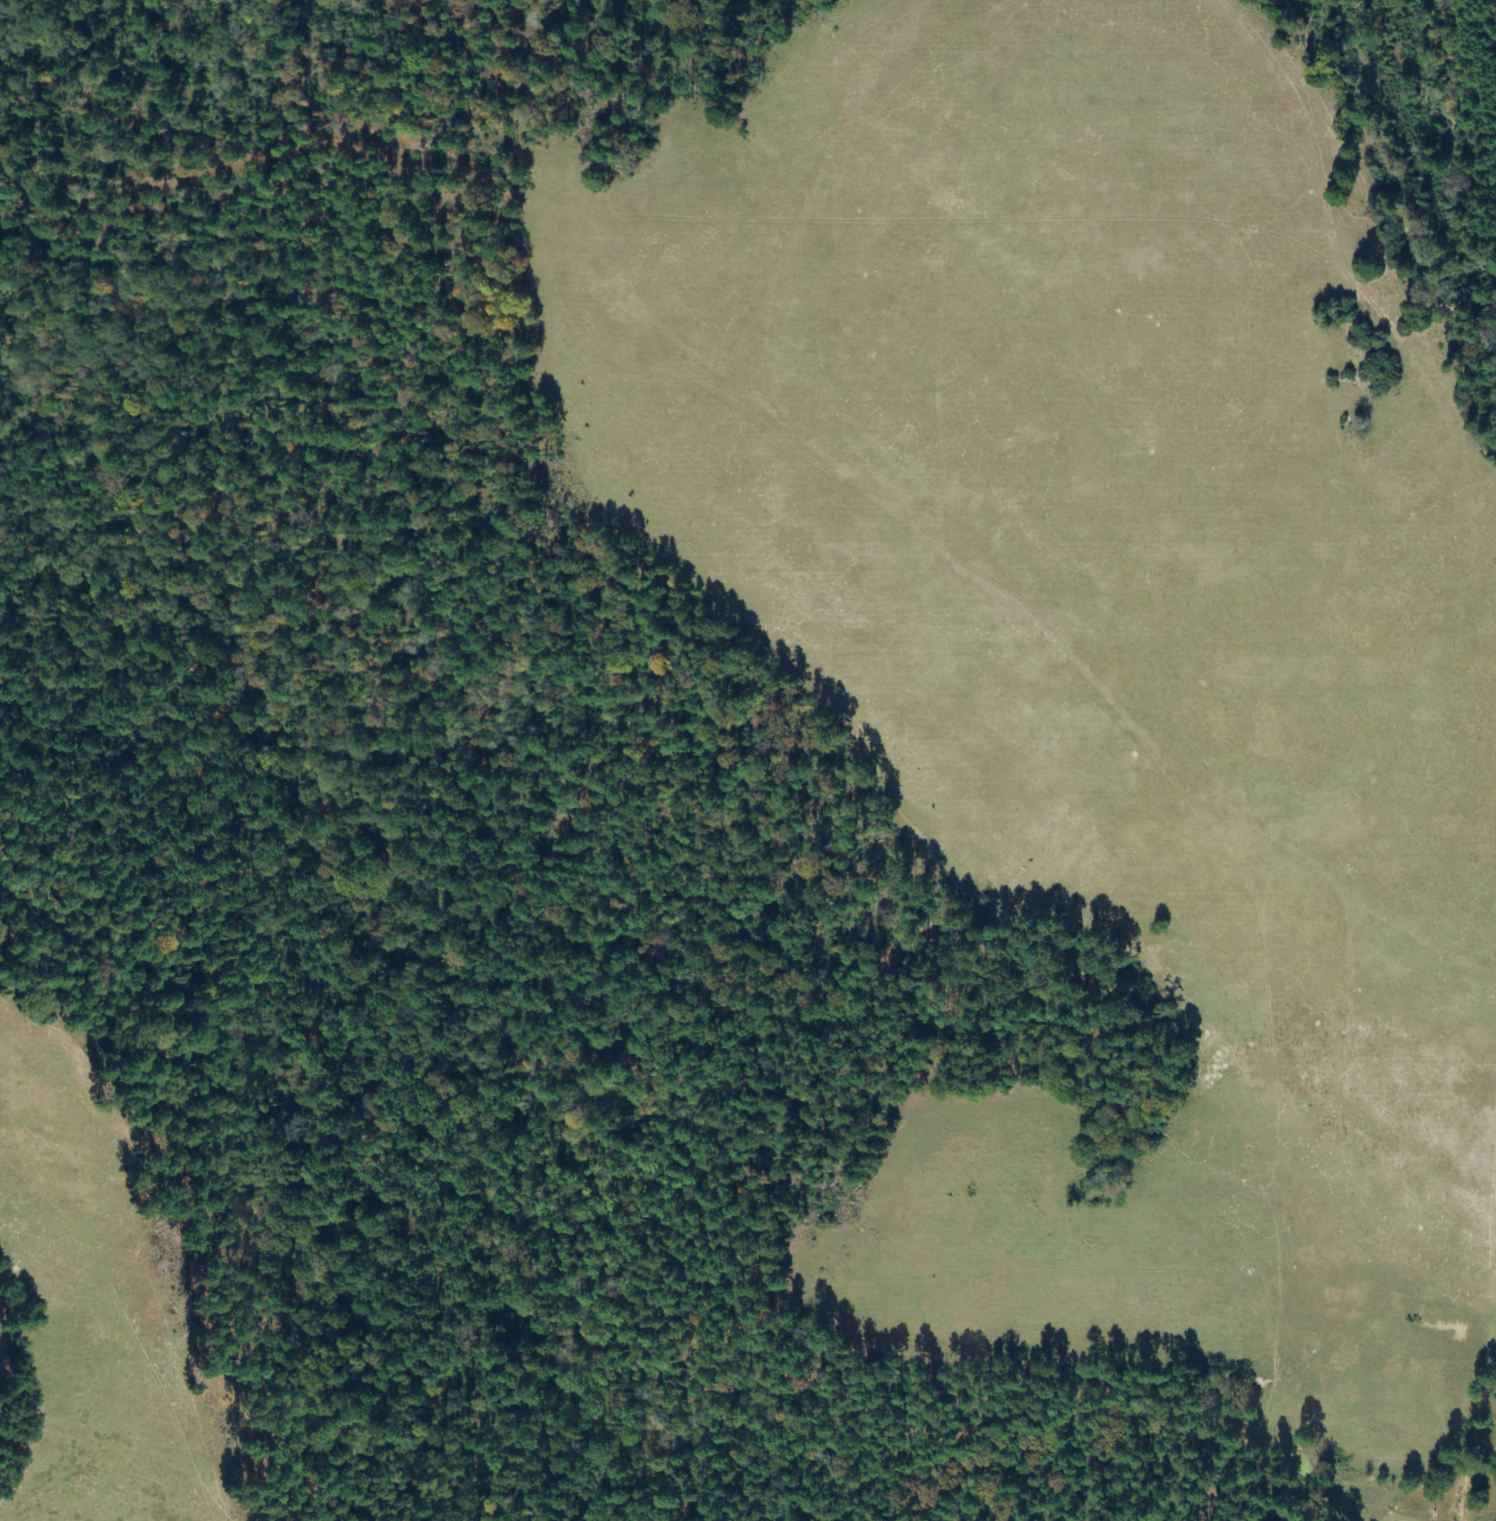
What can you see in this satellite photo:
road: (1472, 1420)

